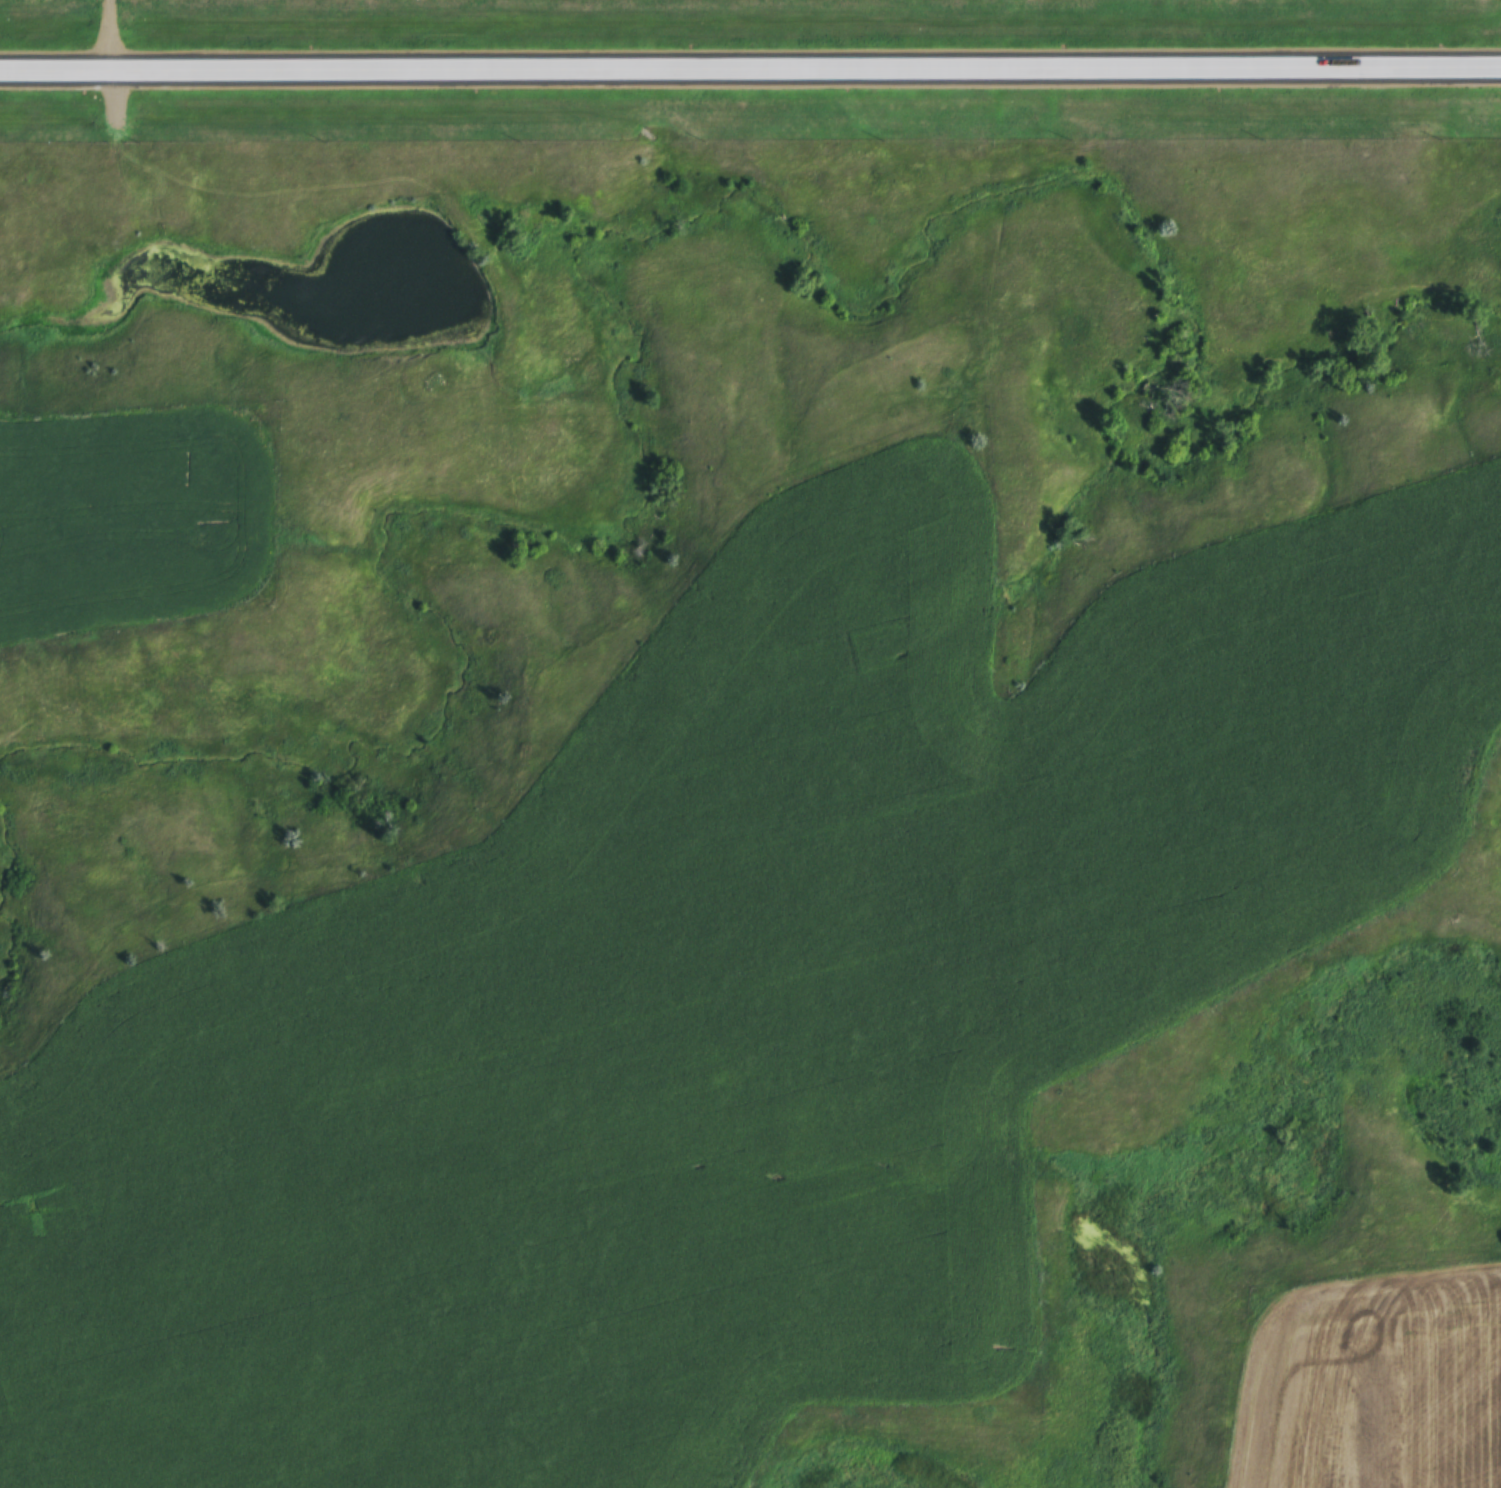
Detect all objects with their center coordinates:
road: (750, 66)
river: (368, 282)

